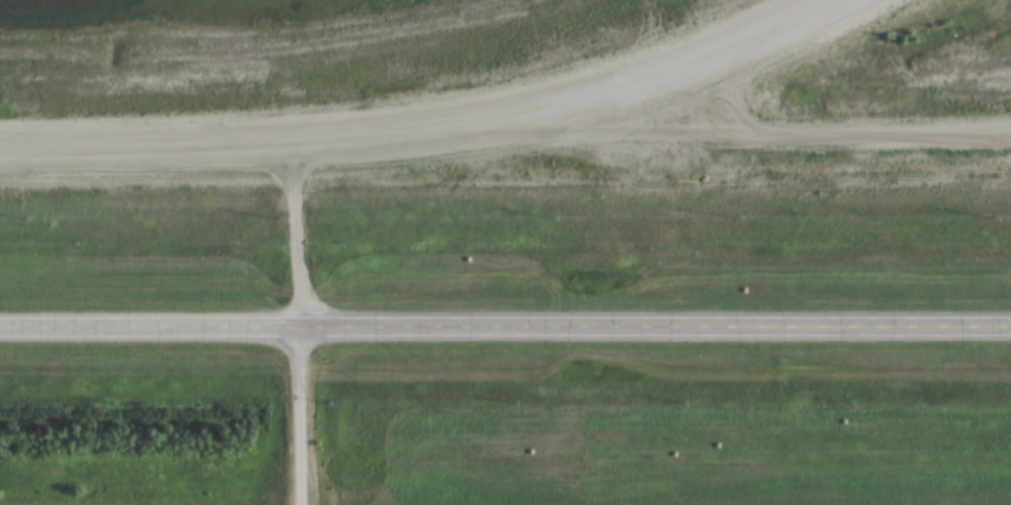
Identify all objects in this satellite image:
quarry: (715, 59)
road: (505, 327)
quarry: (447, 493)

